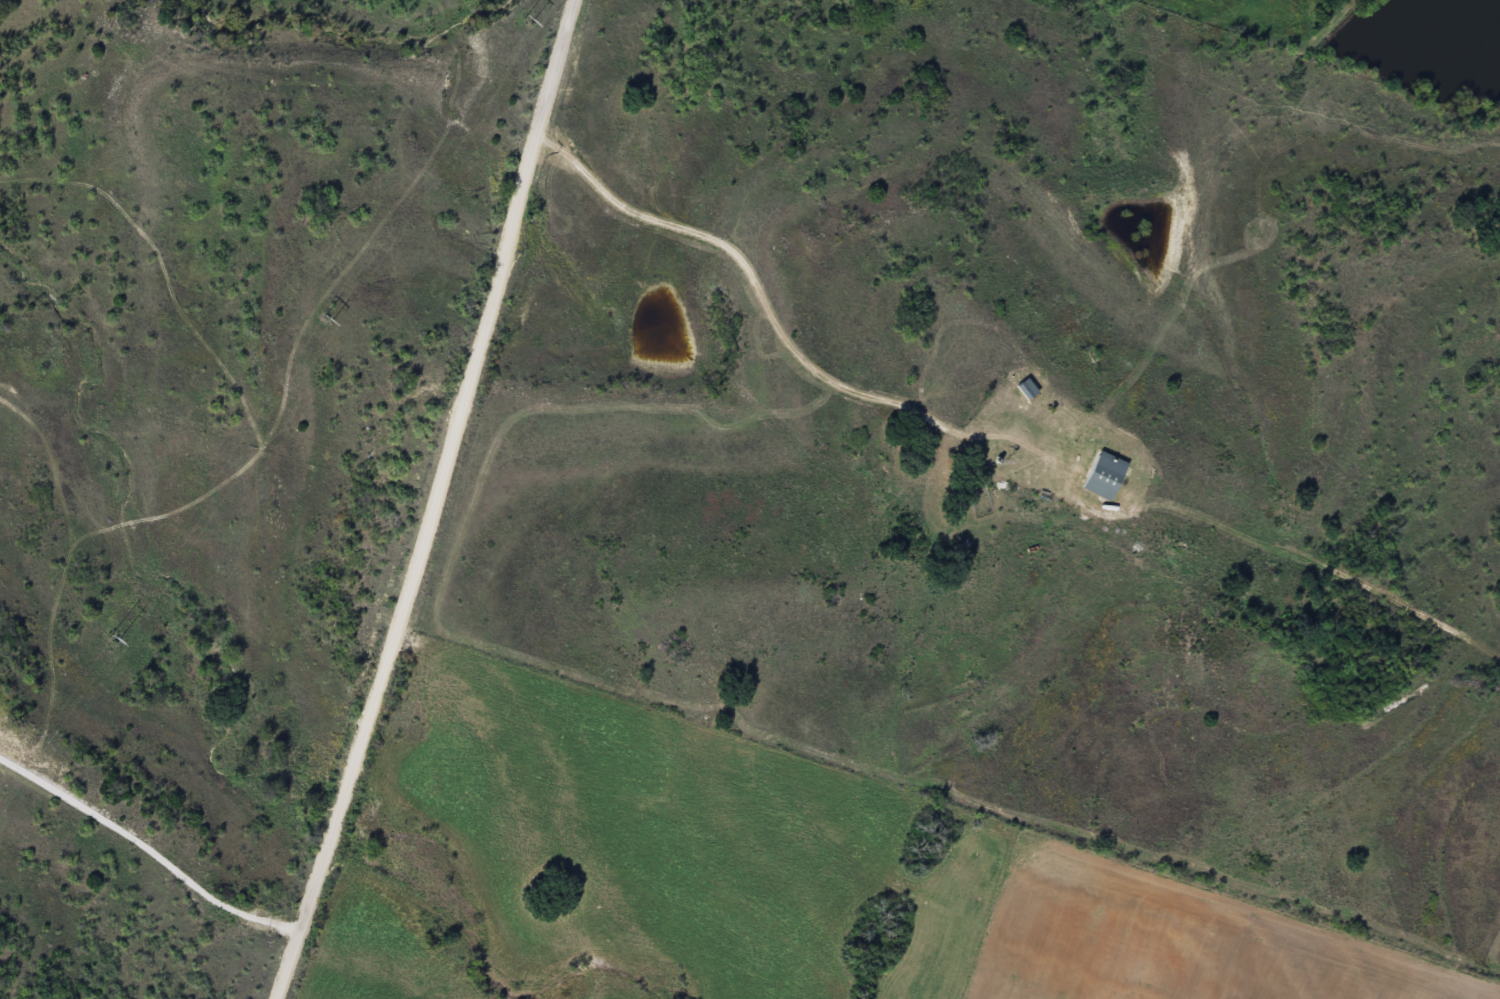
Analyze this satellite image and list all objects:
power tower: (525, 19)
power tower: (325, 319)
building: (1021, 388)
road: (997, 436)
road: (355, 441)
building: (1100, 475)
road: (440, 503)
road: (327, 624)
power tower: (111, 638)

